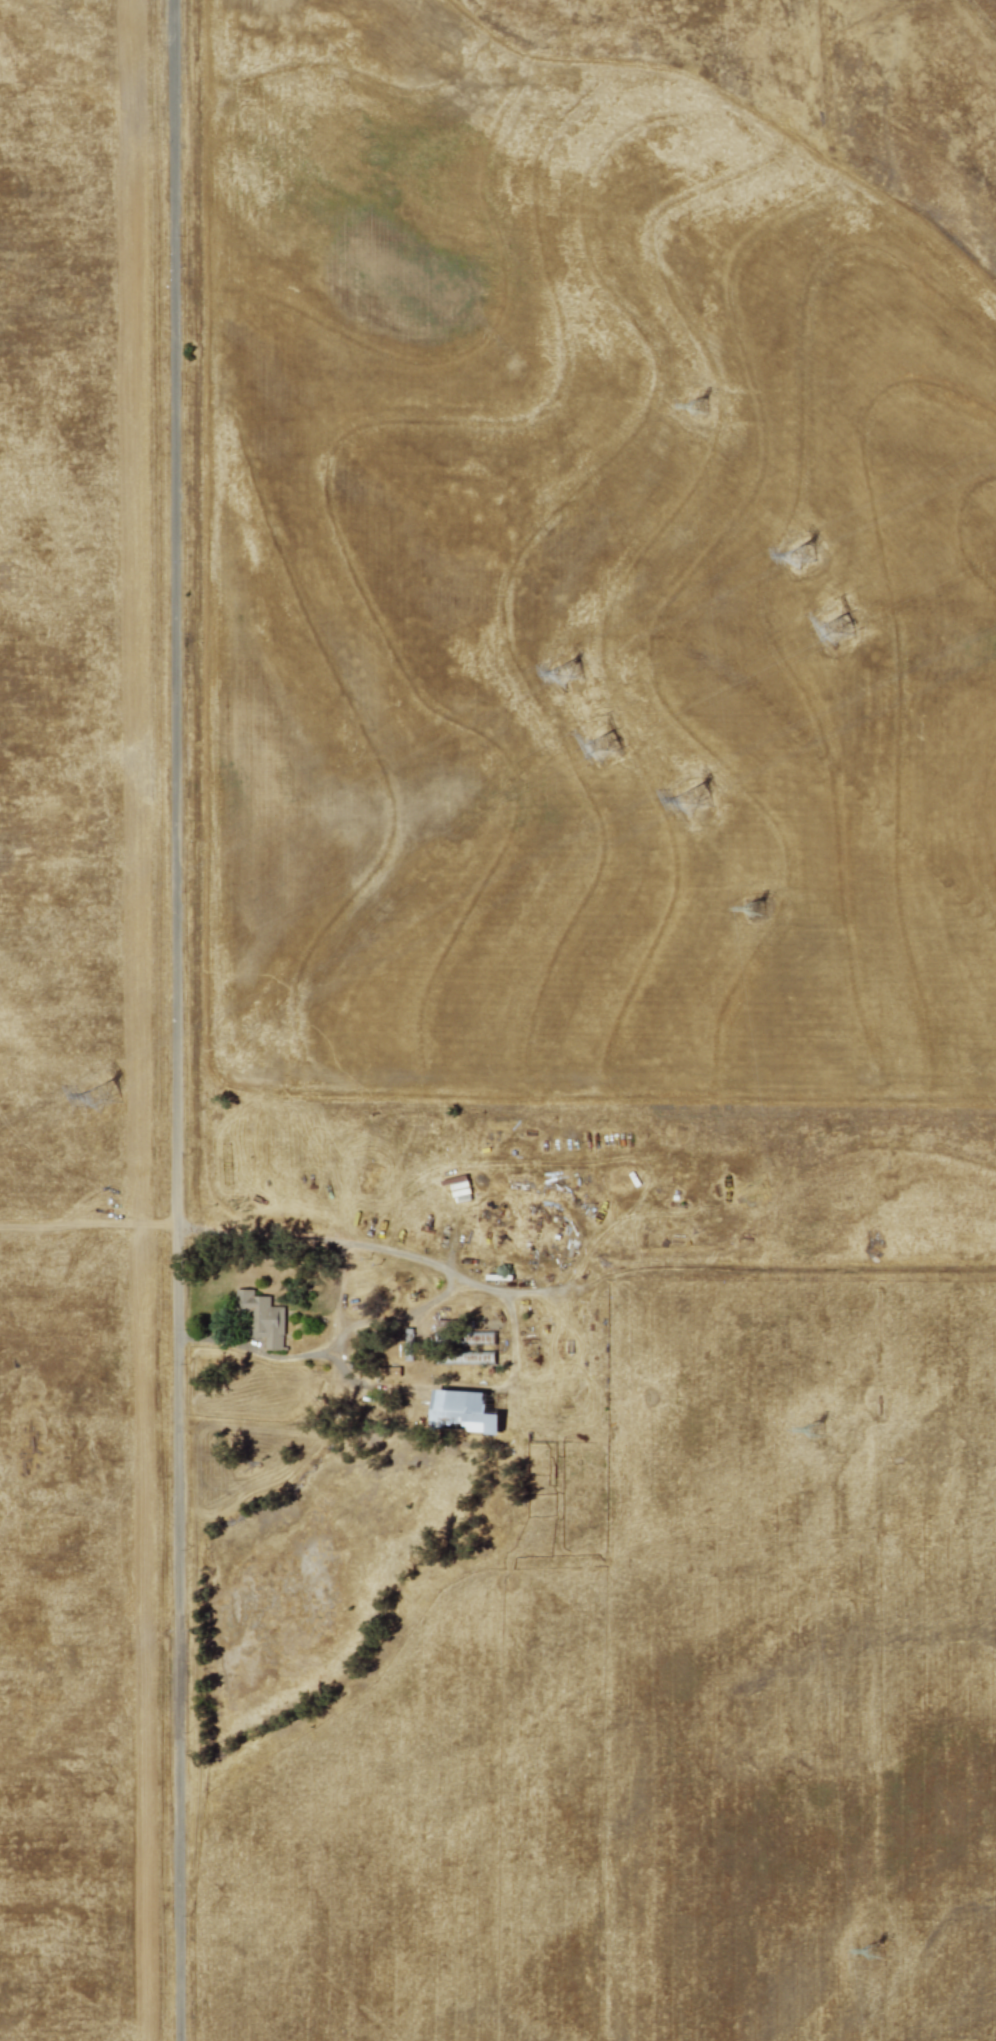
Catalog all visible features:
power tower: (700, 405)
power tower: (808, 557)
power tower: (844, 631)
power tower: (573, 675)
power tower: (609, 748)
power tower: (700, 801)
power tower: (756, 906)
road: (174, 1020)
power tower: (111, 1099)
road: (363, 1243)
building: (261, 1318)
road: (272, 1373)
building: (463, 1411)
power tower: (817, 1428)
power tower: (876, 1948)

